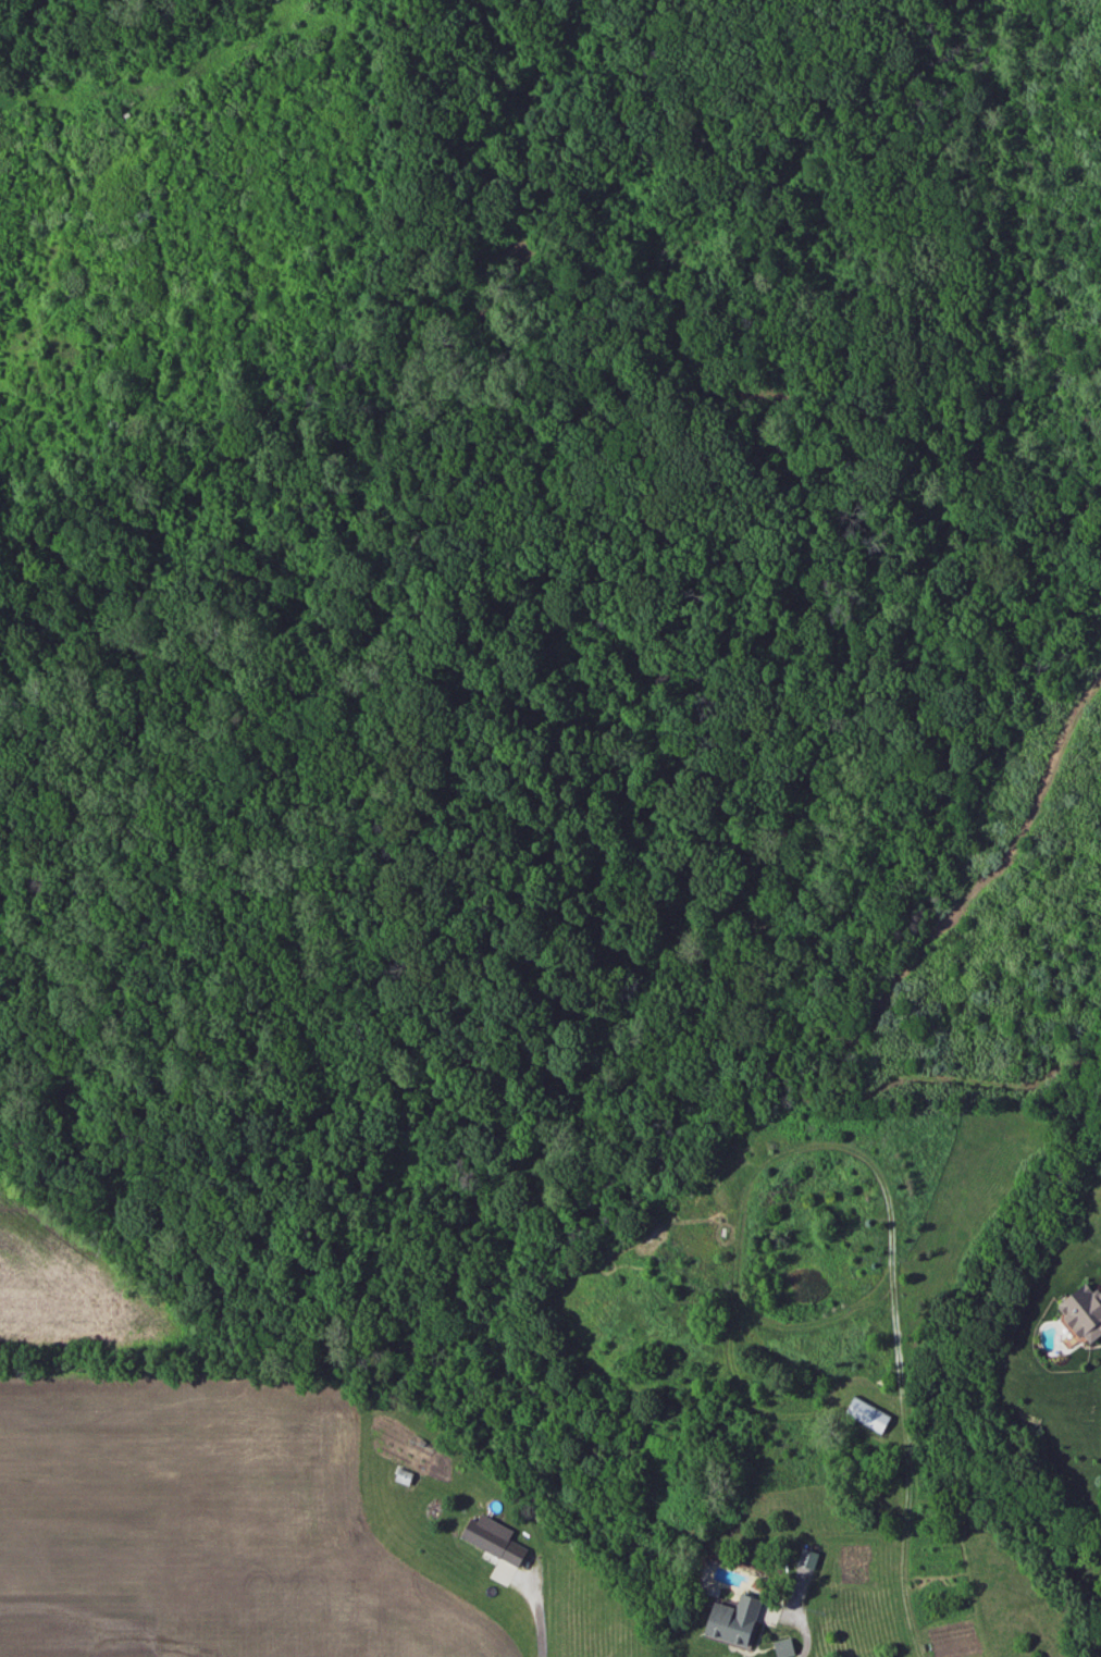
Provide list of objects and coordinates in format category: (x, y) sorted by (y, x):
building: (1083, 1311)
building: (867, 1413)
building: (494, 1545)
building: (806, 1558)
road: (537, 1618)
building: (732, 1620)
road: (805, 1631)
building: (782, 1647)

